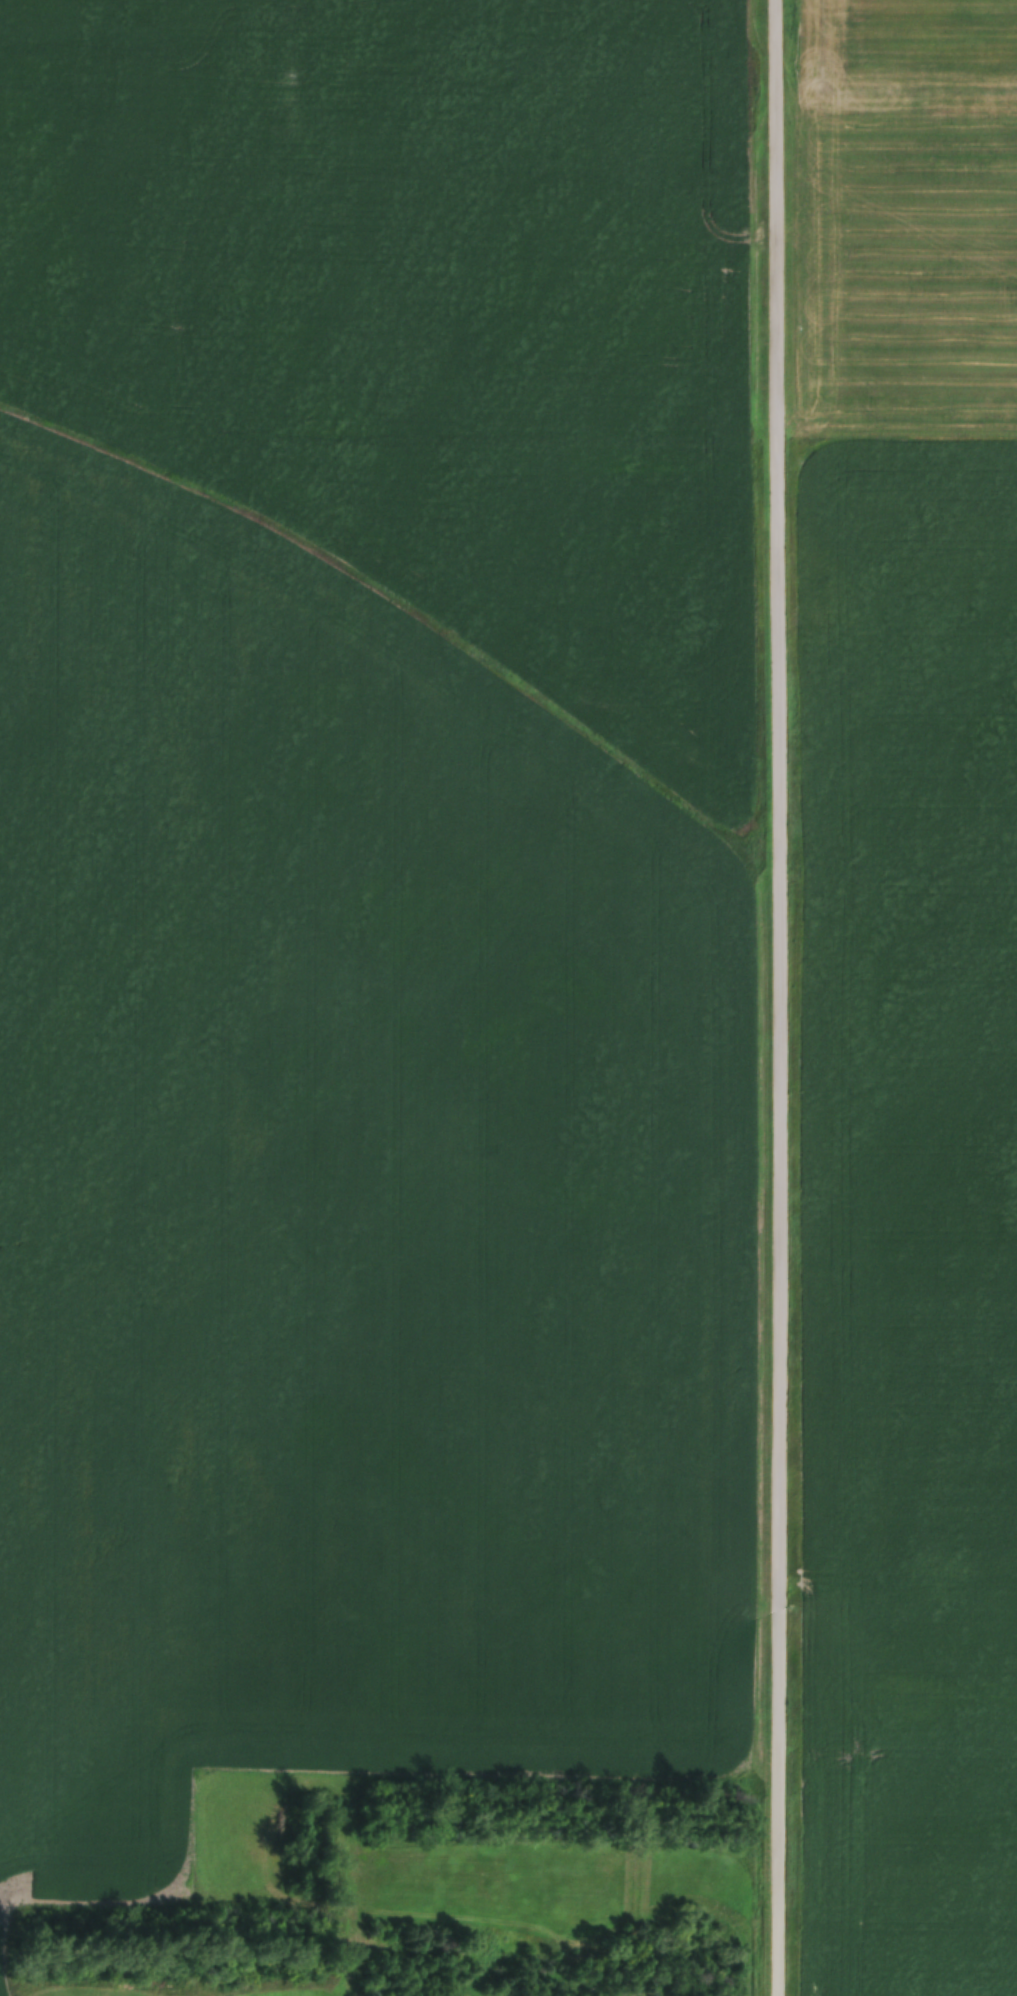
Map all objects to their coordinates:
road: (780, 997)

